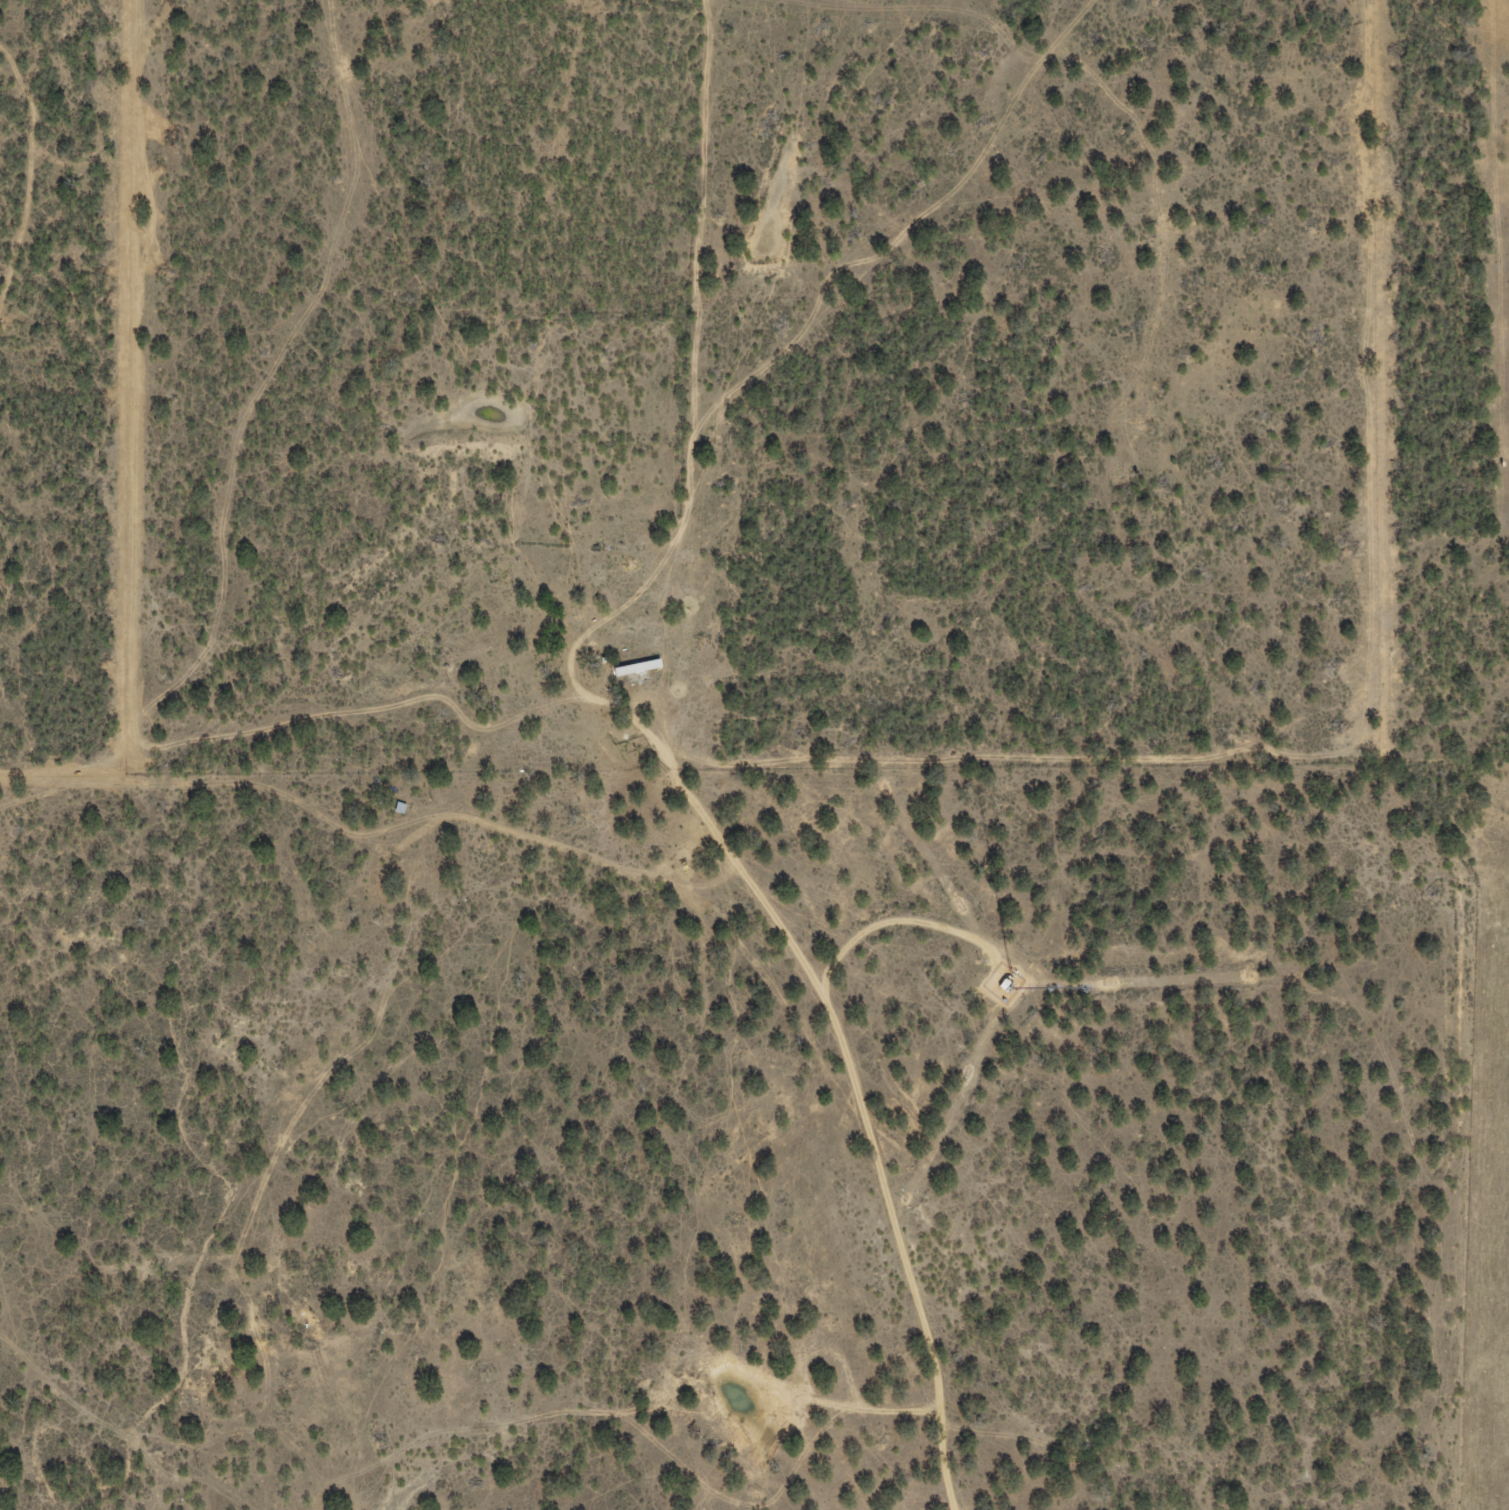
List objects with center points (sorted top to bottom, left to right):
building: (639, 669)
road: (853, 1090)

